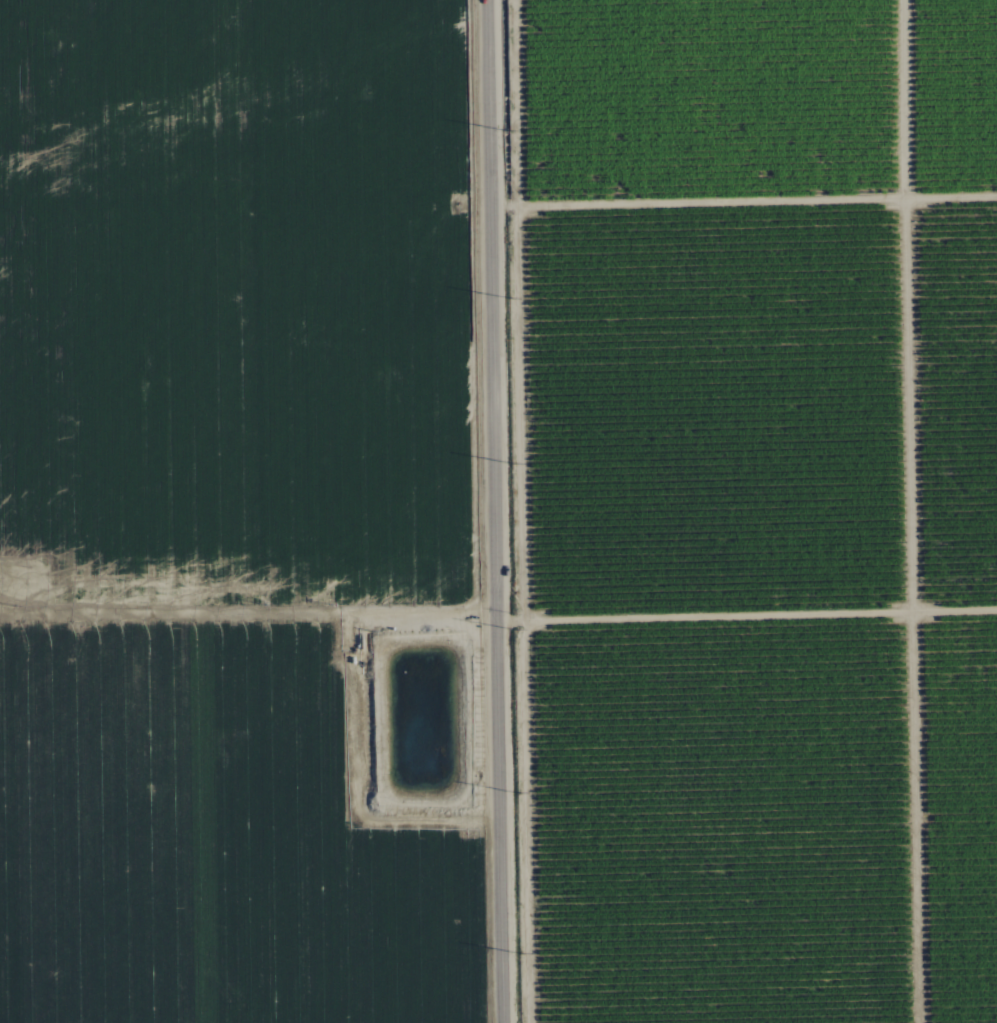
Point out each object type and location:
crop: (238, 315)
road: (493, 511)
road: (746, 617)
crop: (232, 831)

